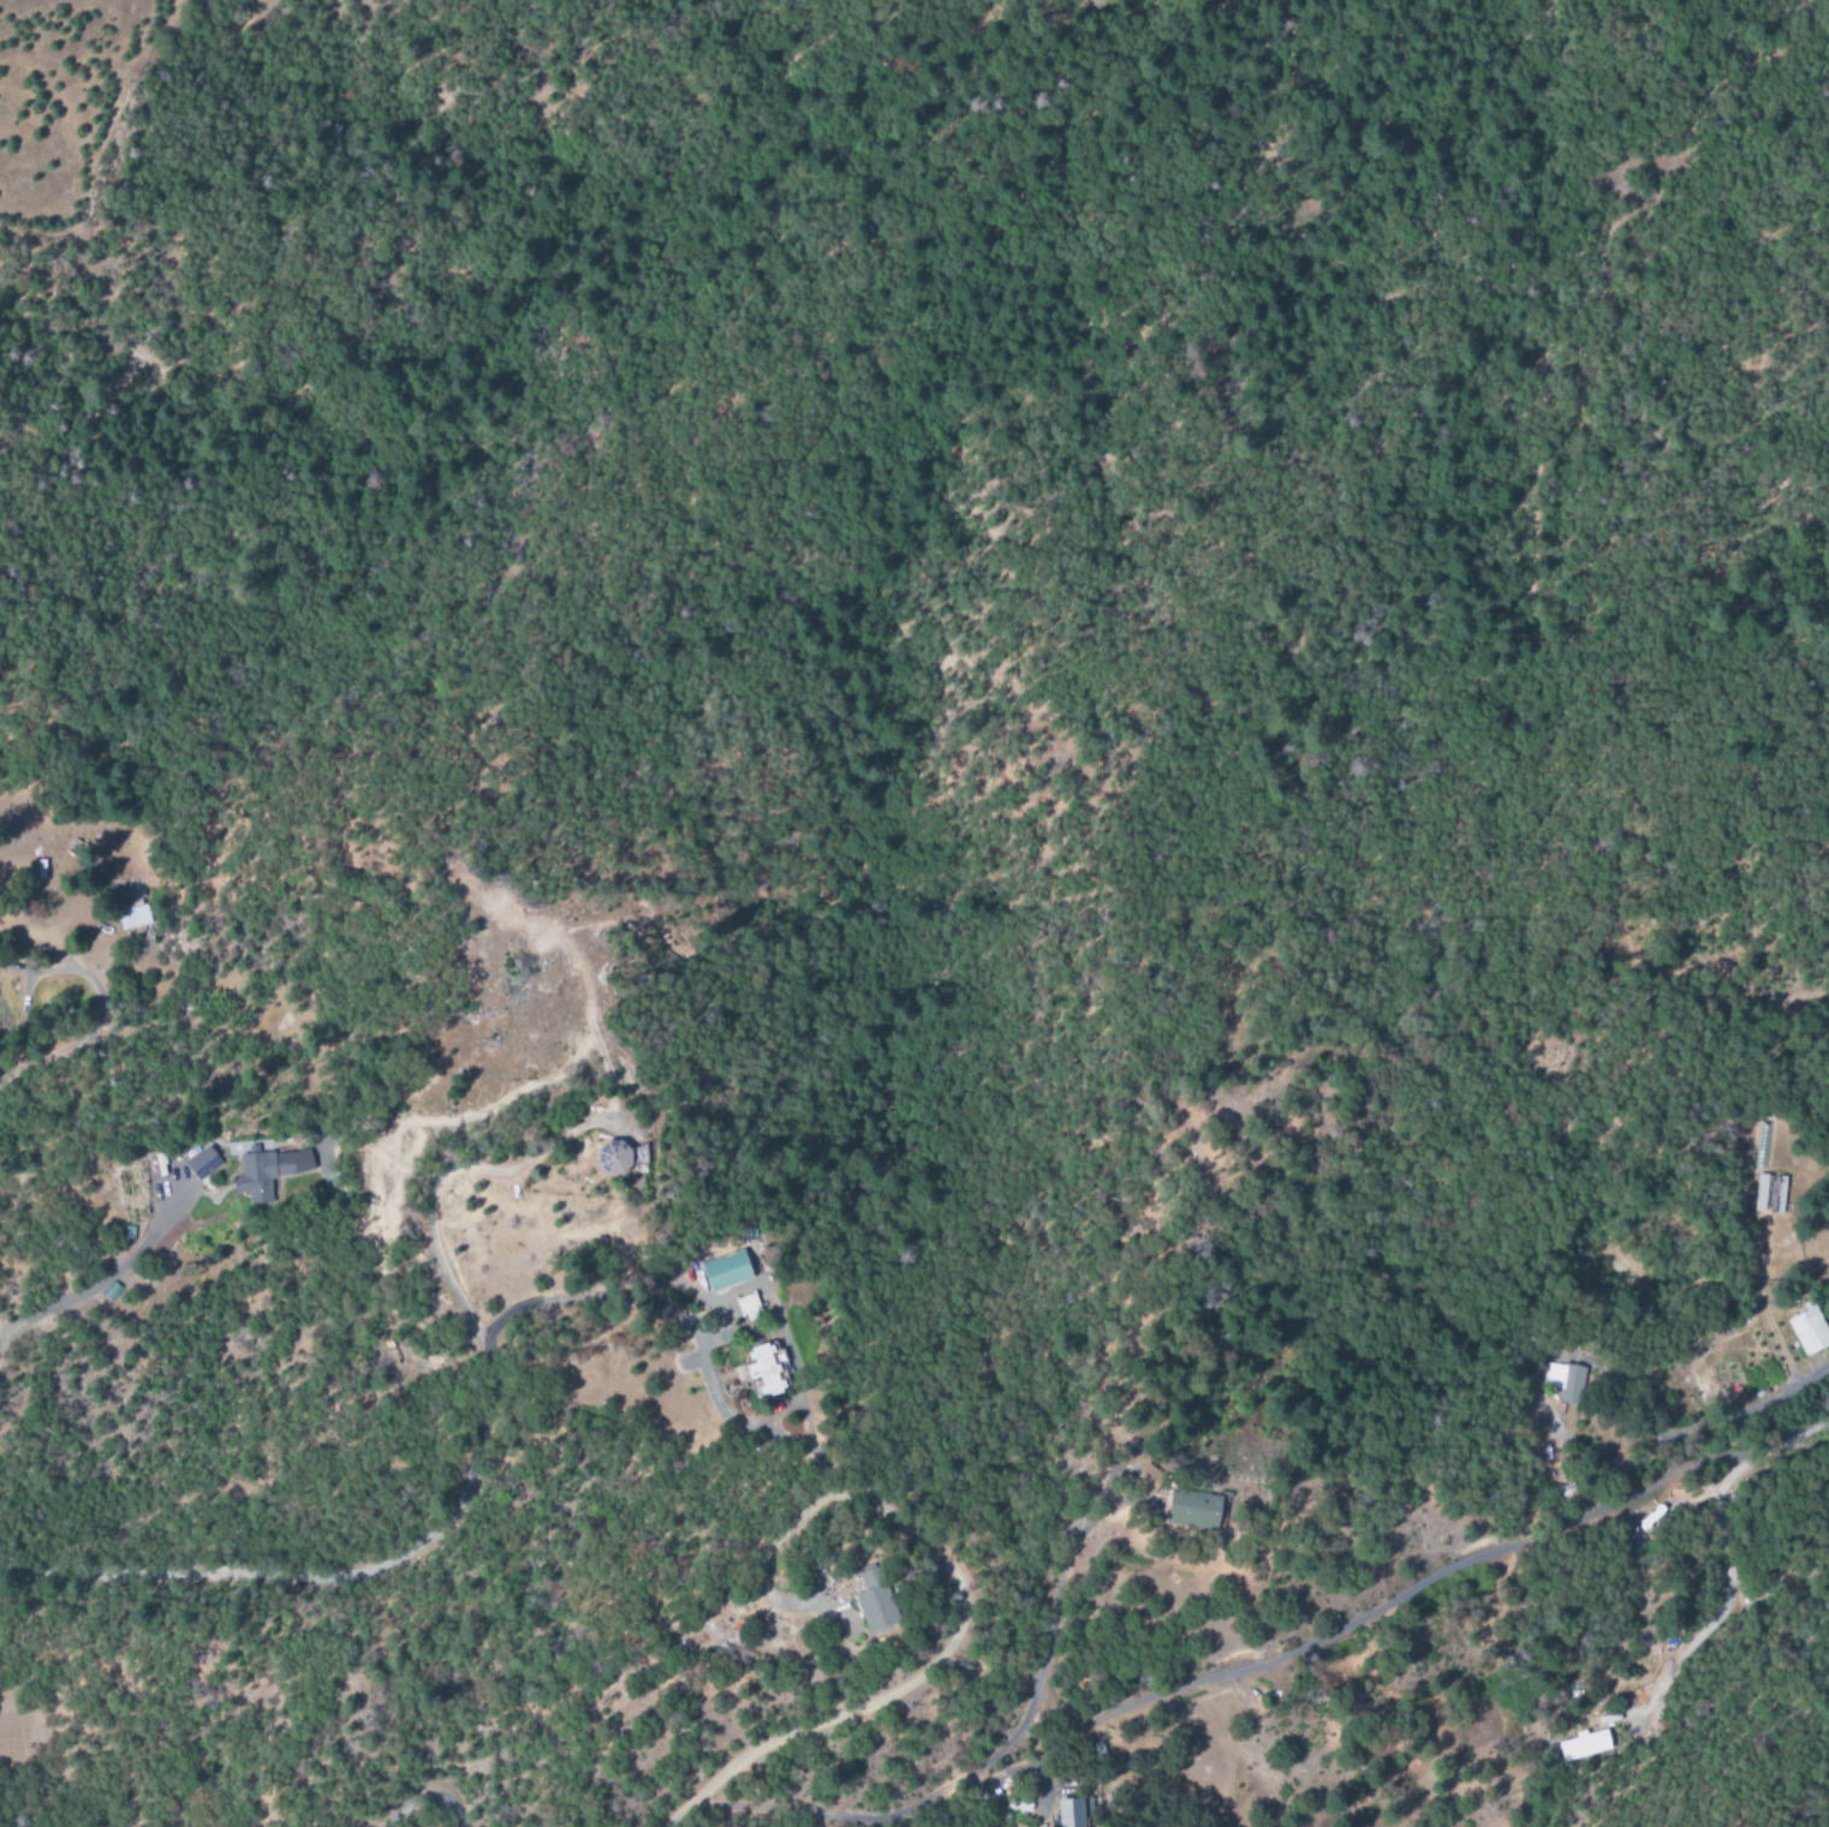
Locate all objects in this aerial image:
building: (132, 917)
building: (614, 1156)
building: (202, 1163)
building: (267, 1168)
building: (1769, 1194)
building: (723, 1271)
building: (747, 1307)
building: (1809, 1331)
building: (764, 1368)
building: (1565, 1381)
building: (1145, 1479)
building: (1190, 1510)
building: (866, 1601)
building: (1584, 1745)
building: (1073, 1811)

